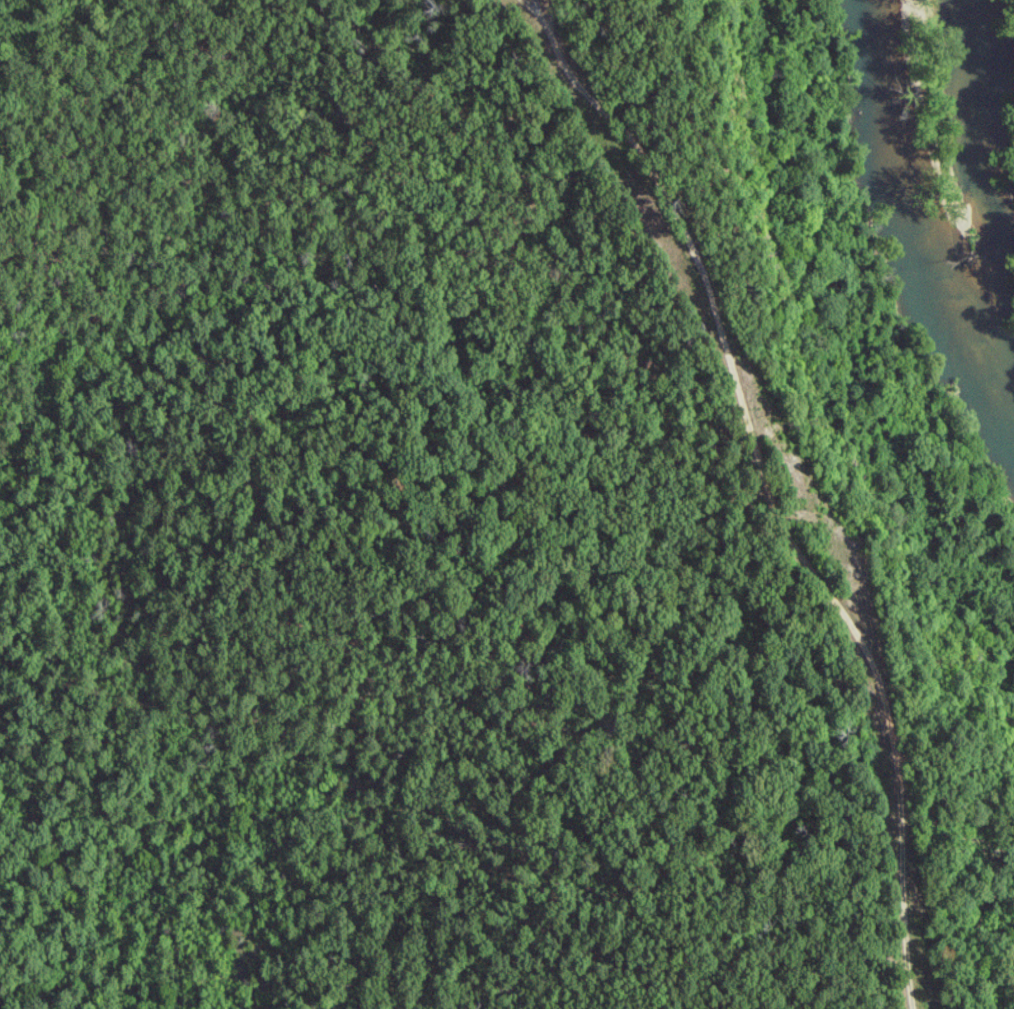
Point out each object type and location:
road: (553, 7)
road: (541, 9)
river: (906, 219)
road: (772, 502)

